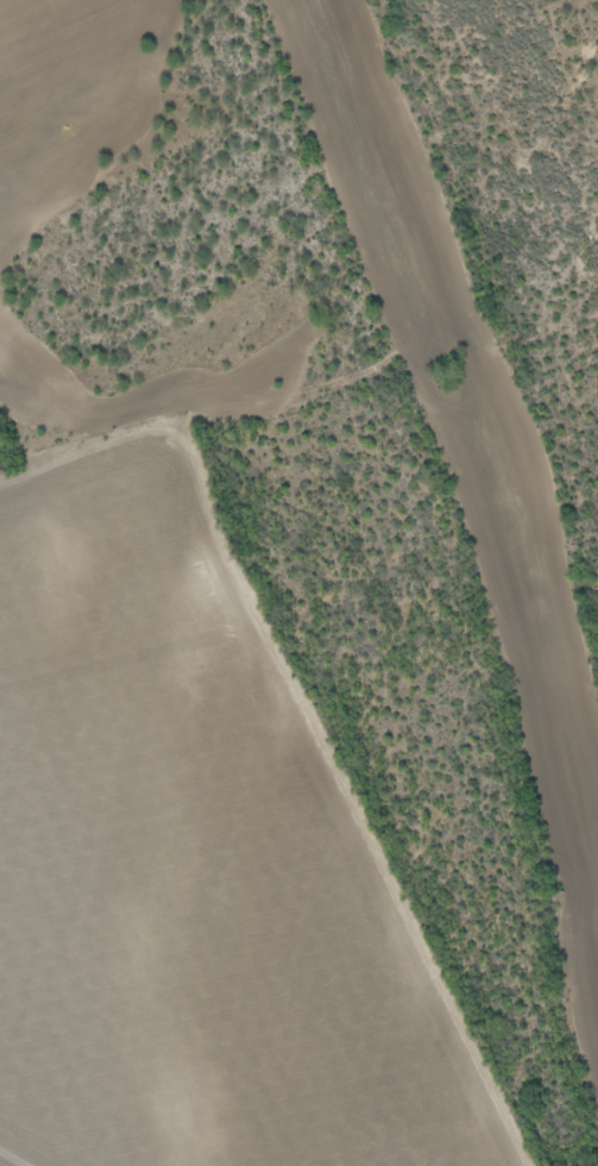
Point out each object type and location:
road: (321, 702)

